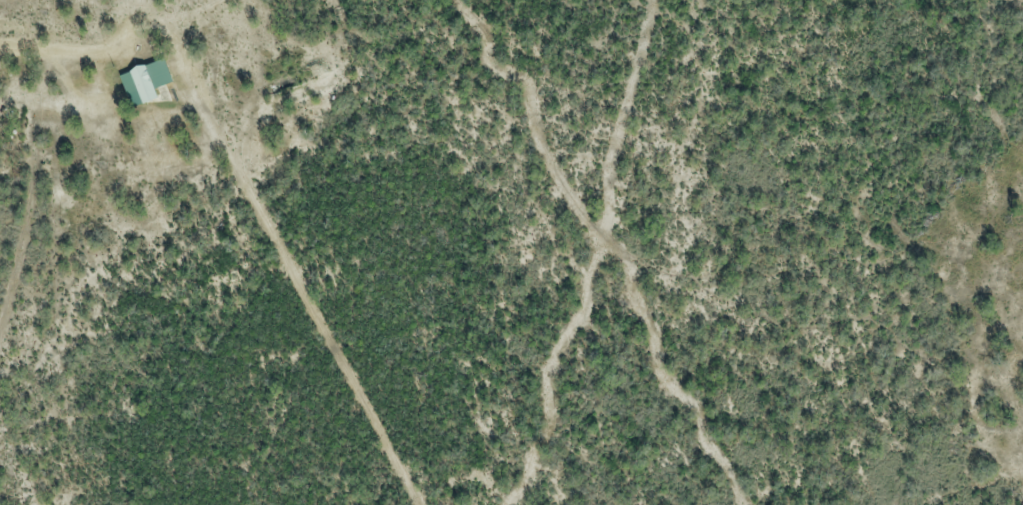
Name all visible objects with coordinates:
road: (128, 27)
road: (313, 305)

